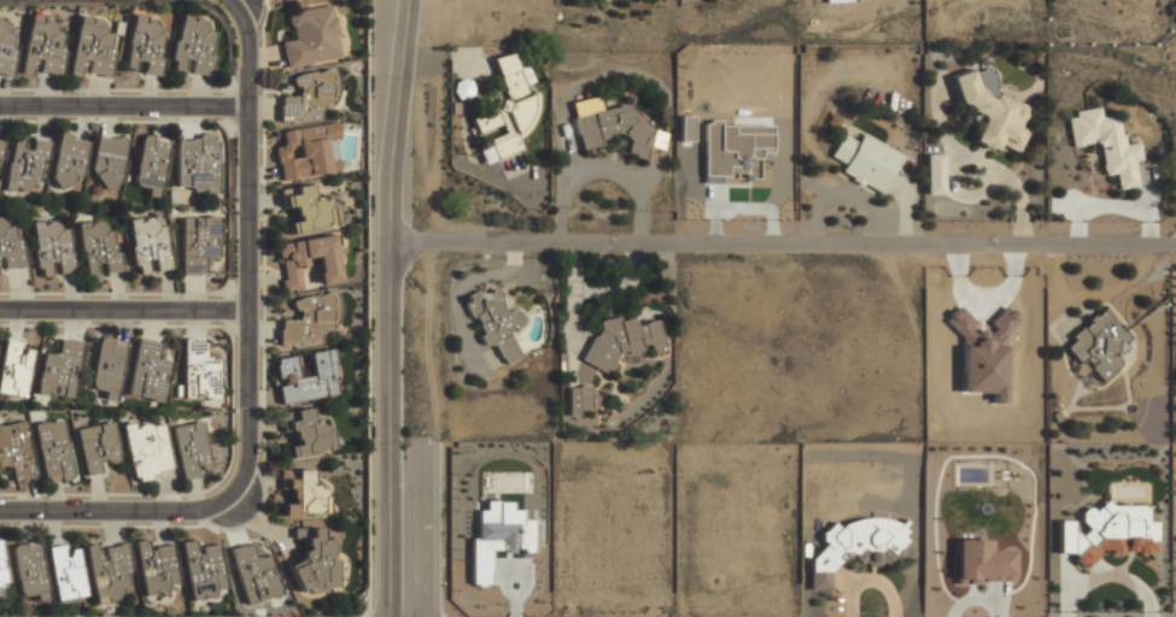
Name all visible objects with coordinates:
building: (311, 37)
building: (145, 45)
building: (41, 46)
building: (193, 46)
building: (92, 48)
building: (6, 49)
building: (309, 95)
road: (123, 105)
building: (509, 110)
building: (614, 127)
building: (1106, 143)
building: (0, 146)
building: (735, 146)
building: (308, 151)
building: (69, 160)
building: (866, 160)
building: (109, 161)
building: (197, 163)
building: (27, 164)
building: (151, 164)
building: (935, 174)
building: (309, 210)
building: (199, 242)
building: (147, 243)
road: (786, 243)
building: (8, 246)
building: (51, 247)
road: (247, 247)
building: (99, 248)
building: (294, 262)
road: (397, 307)
road: (123, 308)
building: (308, 319)
building: (495, 322)
building: (621, 340)
building: (1098, 345)
building: (107, 366)
building: (14, 369)
building: (60, 370)
building: (199, 371)
building: (148, 372)
building: (306, 377)
building: (577, 399)
building: (306, 431)
building: (98, 446)
building: (147, 448)
building: (191, 448)
building: (16, 449)
building: (53, 449)
building: (302, 493)
road: (115, 510)
building: (1107, 533)
building: (498, 536)
building: (856, 546)
building: (315, 560)
building: (983, 562)
building: (2, 565)
building: (156, 568)
building: (204, 568)
building: (30, 571)
building: (109, 571)
building: (66, 572)
building: (254, 574)
building: (0, 588)

